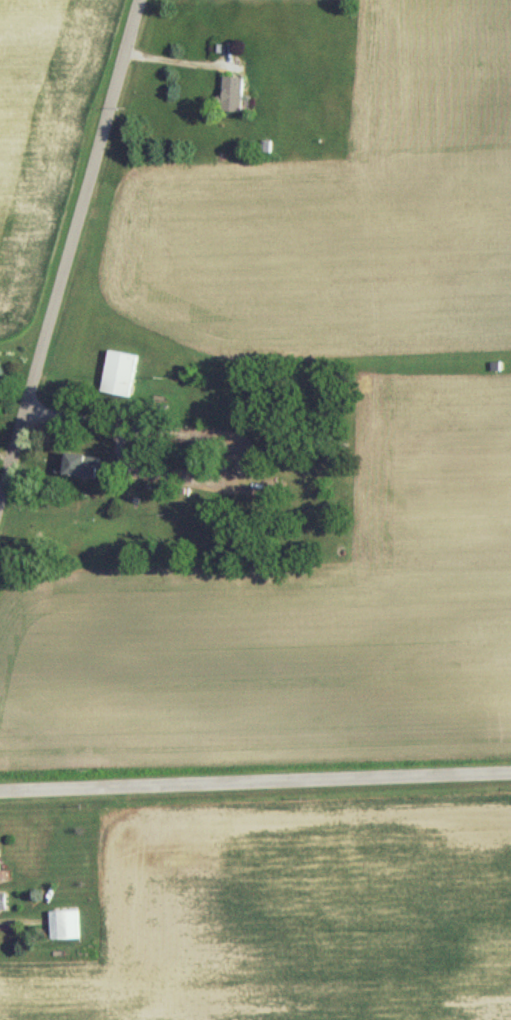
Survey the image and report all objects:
road: (172, 61)
building: (237, 96)
road: (68, 245)
building: (74, 465)
road: (255, 785)
building: (1, 900)
building: (62, 923)

